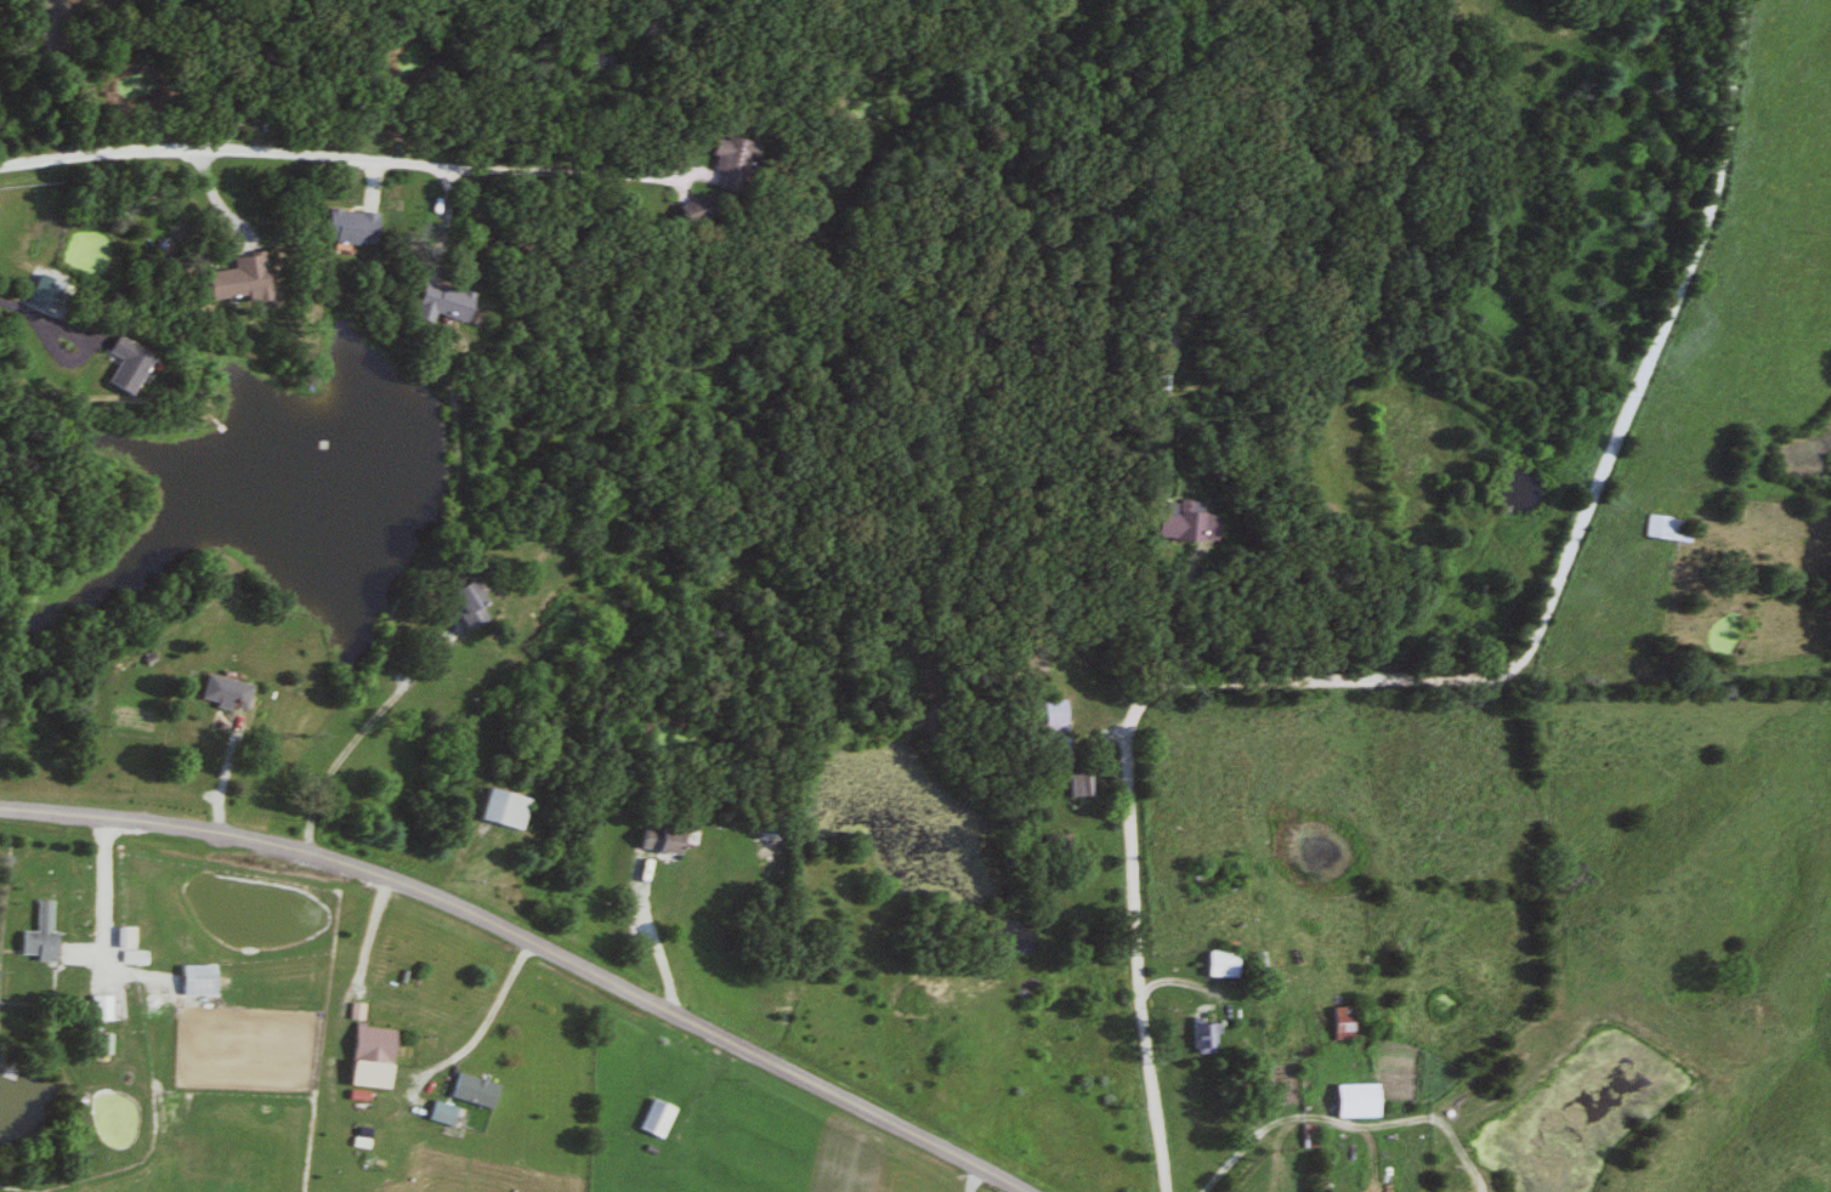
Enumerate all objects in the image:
road: (342, 159)
building: (726, 163)
building: (691, 211)
building: (345, 227)
building: (234, 279)
building: (433, 303)
road: (49, 347)
building: (120, 365)
building: (1153, 375)
building: (1183, 522)
building: (1662, 529)
building: (459, 606)
road: (1160, 621)
road: (1441, 685)
building: (222, 694)
building: (1049, 717)
road: (364, 734)
building: (1051, 750)
building: (1073, 783)
building: (500, 811)
building: (653, 842)
road: (104, 906)
building: (35, 933)
road: (648, 936)
road: (526, 942)
building: (1217, 965)
building: (1258, 965)
building: (193, 980)
building: (98, 1009)
building: (1342, 1023)
building: (200, 1027)
building: (1200, 1038)
building: (101, 1044)
building: (368, 1045)
building: (470, 1090)
building: (1355, 1099)
building: (652, 1119)
building: (1304, 1136)
road: (1310, 1136)
road: (973, 1181)

